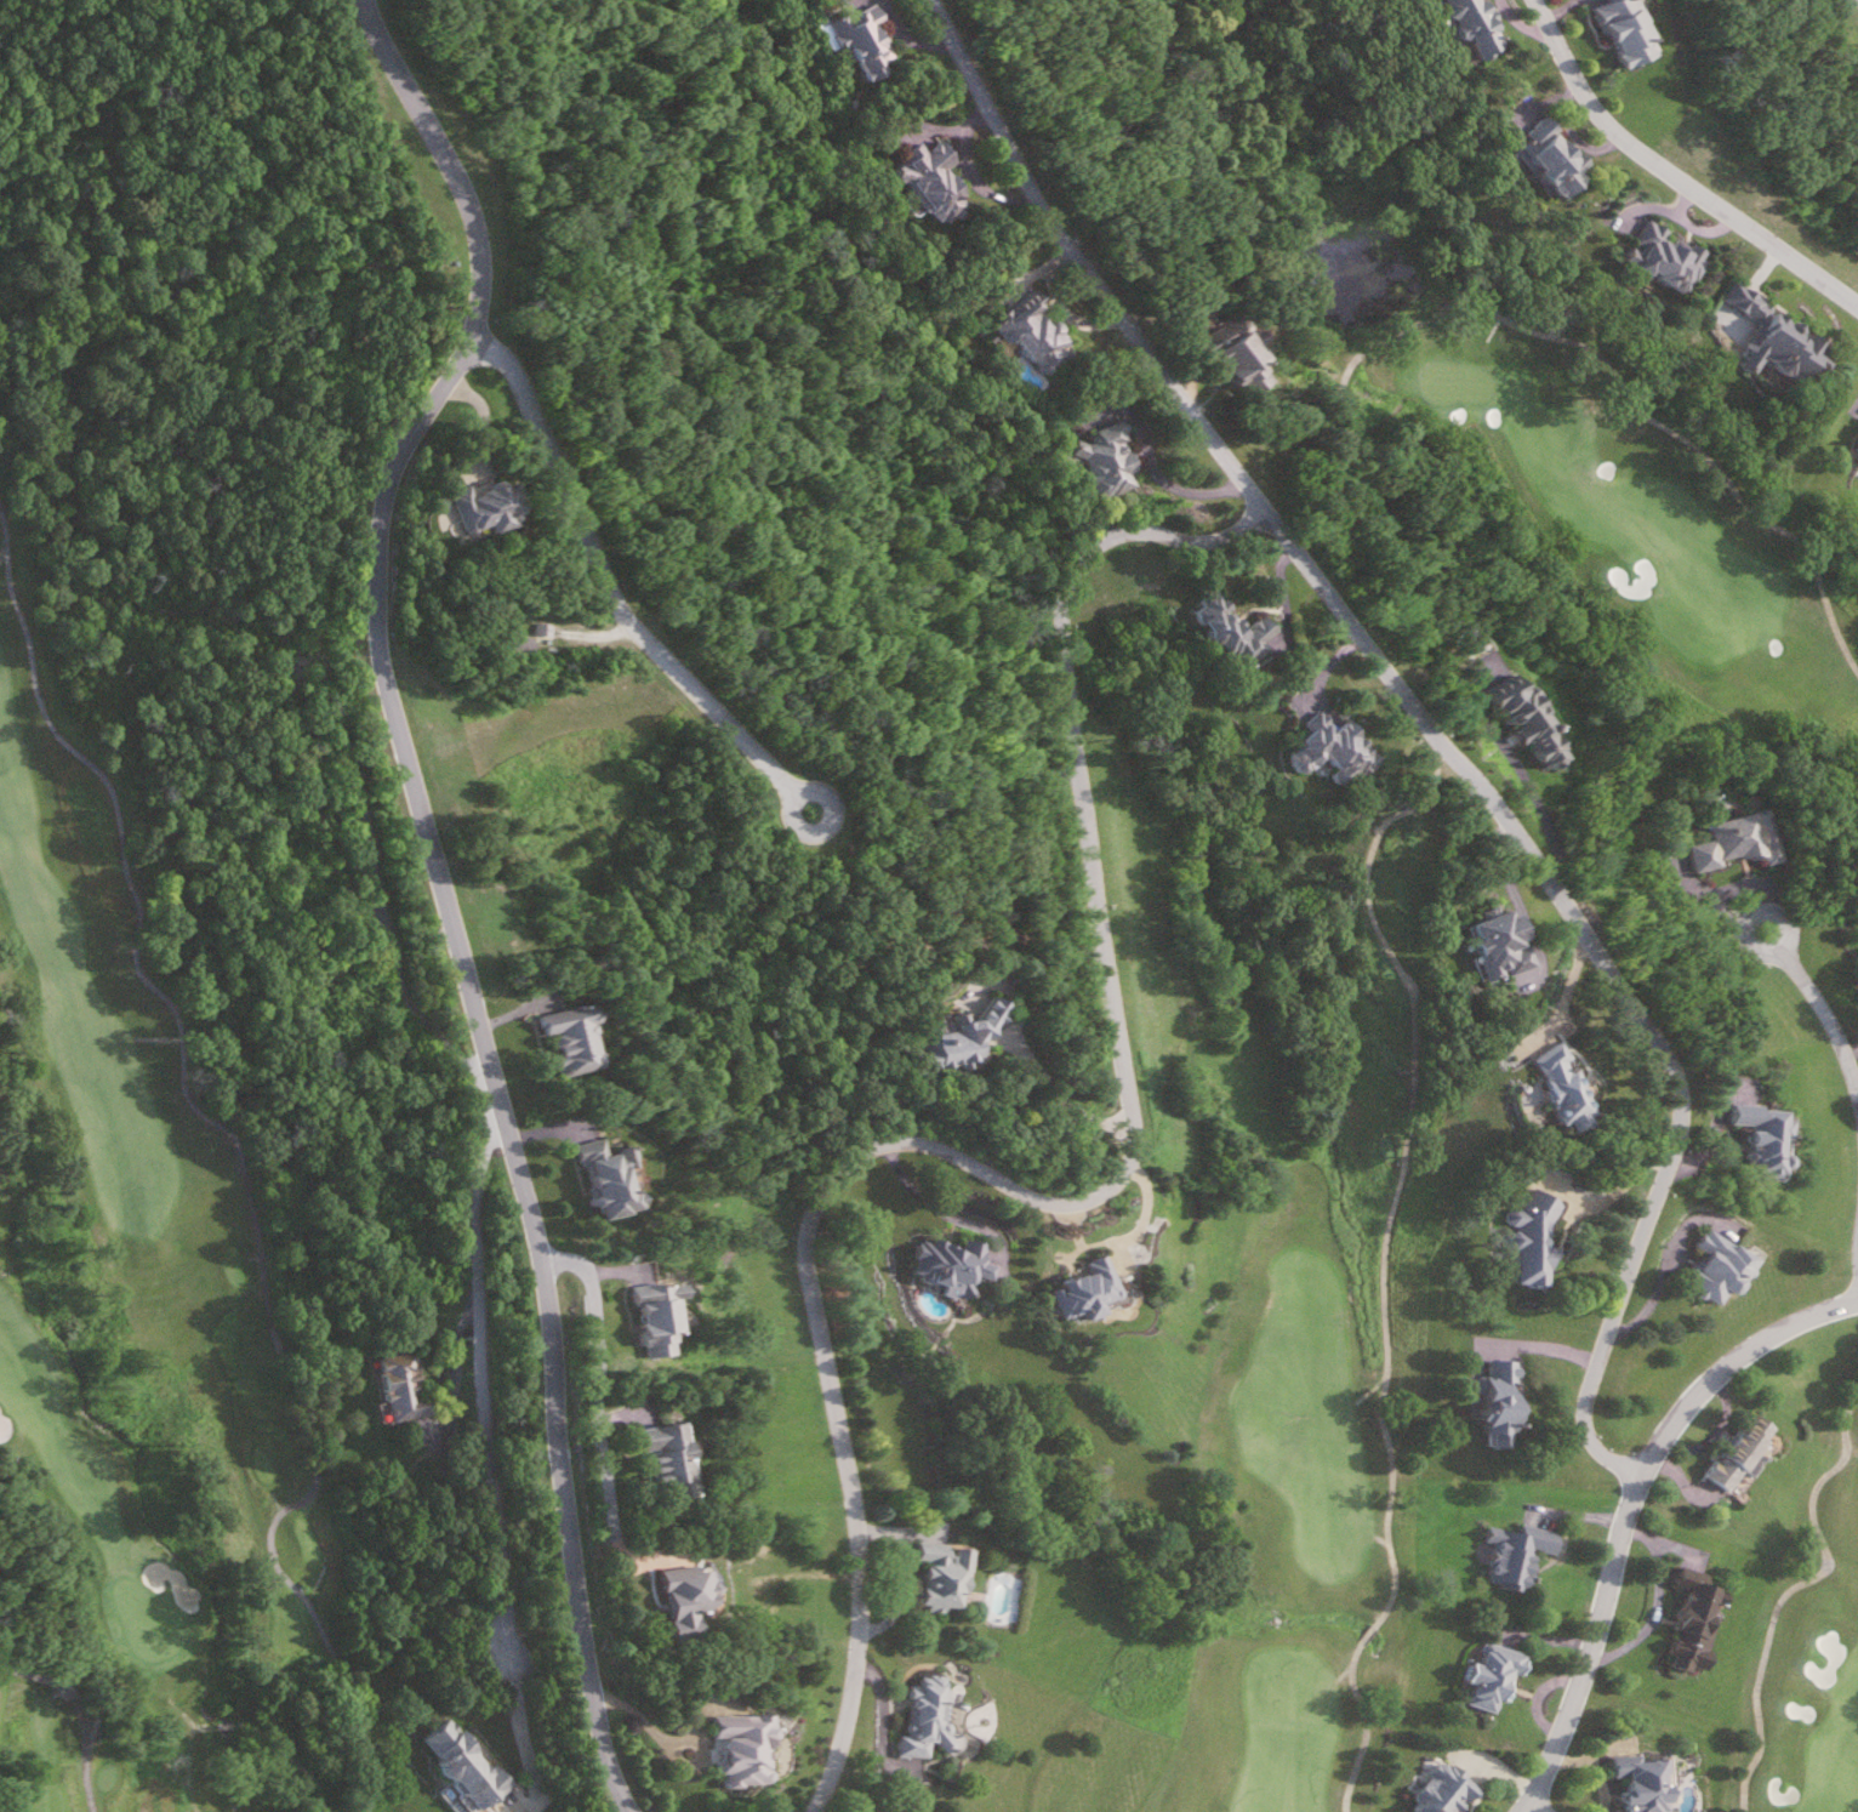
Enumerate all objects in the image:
building: (1481, 28)
building: (1630, 33)
building: (866, 45)
building: (1554, 153)
road: (1675, 173)
building: (931, 182)
building: (1665, 252)
building: (1038, 335)
building: (1772, 336)
building: (1241, 355)
building: (1856, 445)
building: (1857, 455)
building: (1107, 458)
building: (491, 503)
road: (1304, 554)
road: (625, 587)
building: (545, 628)
building: (1236, 629)
building: (520, 644)
road: (1420, 663)
building: (1522, 719)
building: (1332, 746)
building: (1734, 841)
road: (441, 888)
building: (1498, 944)
road: (1562, 1002)
road: (1824, 1010)
park: (1427, 1019)
road: (179, 1030)
building: (963, 1038)
building: (575, 1039)
road: (1852, 1050)
road: (1854, 1071)
building: (1557, 1082)
road: (1064, 1098)
road: (494, 1100)
road: (489, 1112)
building: (1757, 1124)
building: (609, 1178)
road: (1059, 1202)
building: (1529, 1235)
building: (953, 1263)
building: (1715, 1265)
building: (1084, 1289)
park: (149, 1290)
road: (1623, 1300)
building: (659, 1318)
building: (406, 1385)
road: (591, 1388)
building: (1498, 1401)
building: (1738, 1457)
building: (671, 1458)
road: (1628, 1509)
building: (1512, 1550)
road: (900, 1571)
building: (933, 1574)
road: (1788, 1588)
building: (690, 1600)
road: (1652, 1603)
building: (1689, 1619)
road: (45, 1630)
park: (1811, 1636)
road: (335, 1660)
building: (1488, 1673)
building: (921, 1719)
road: (1366, 1727)
road: (525, 1730)
building: (745, 1749)
building: (469, 1763)
road: (80, 1778)
building: (1642, 1782)
building: (1437, 1788)
road: (1531, 1808)

